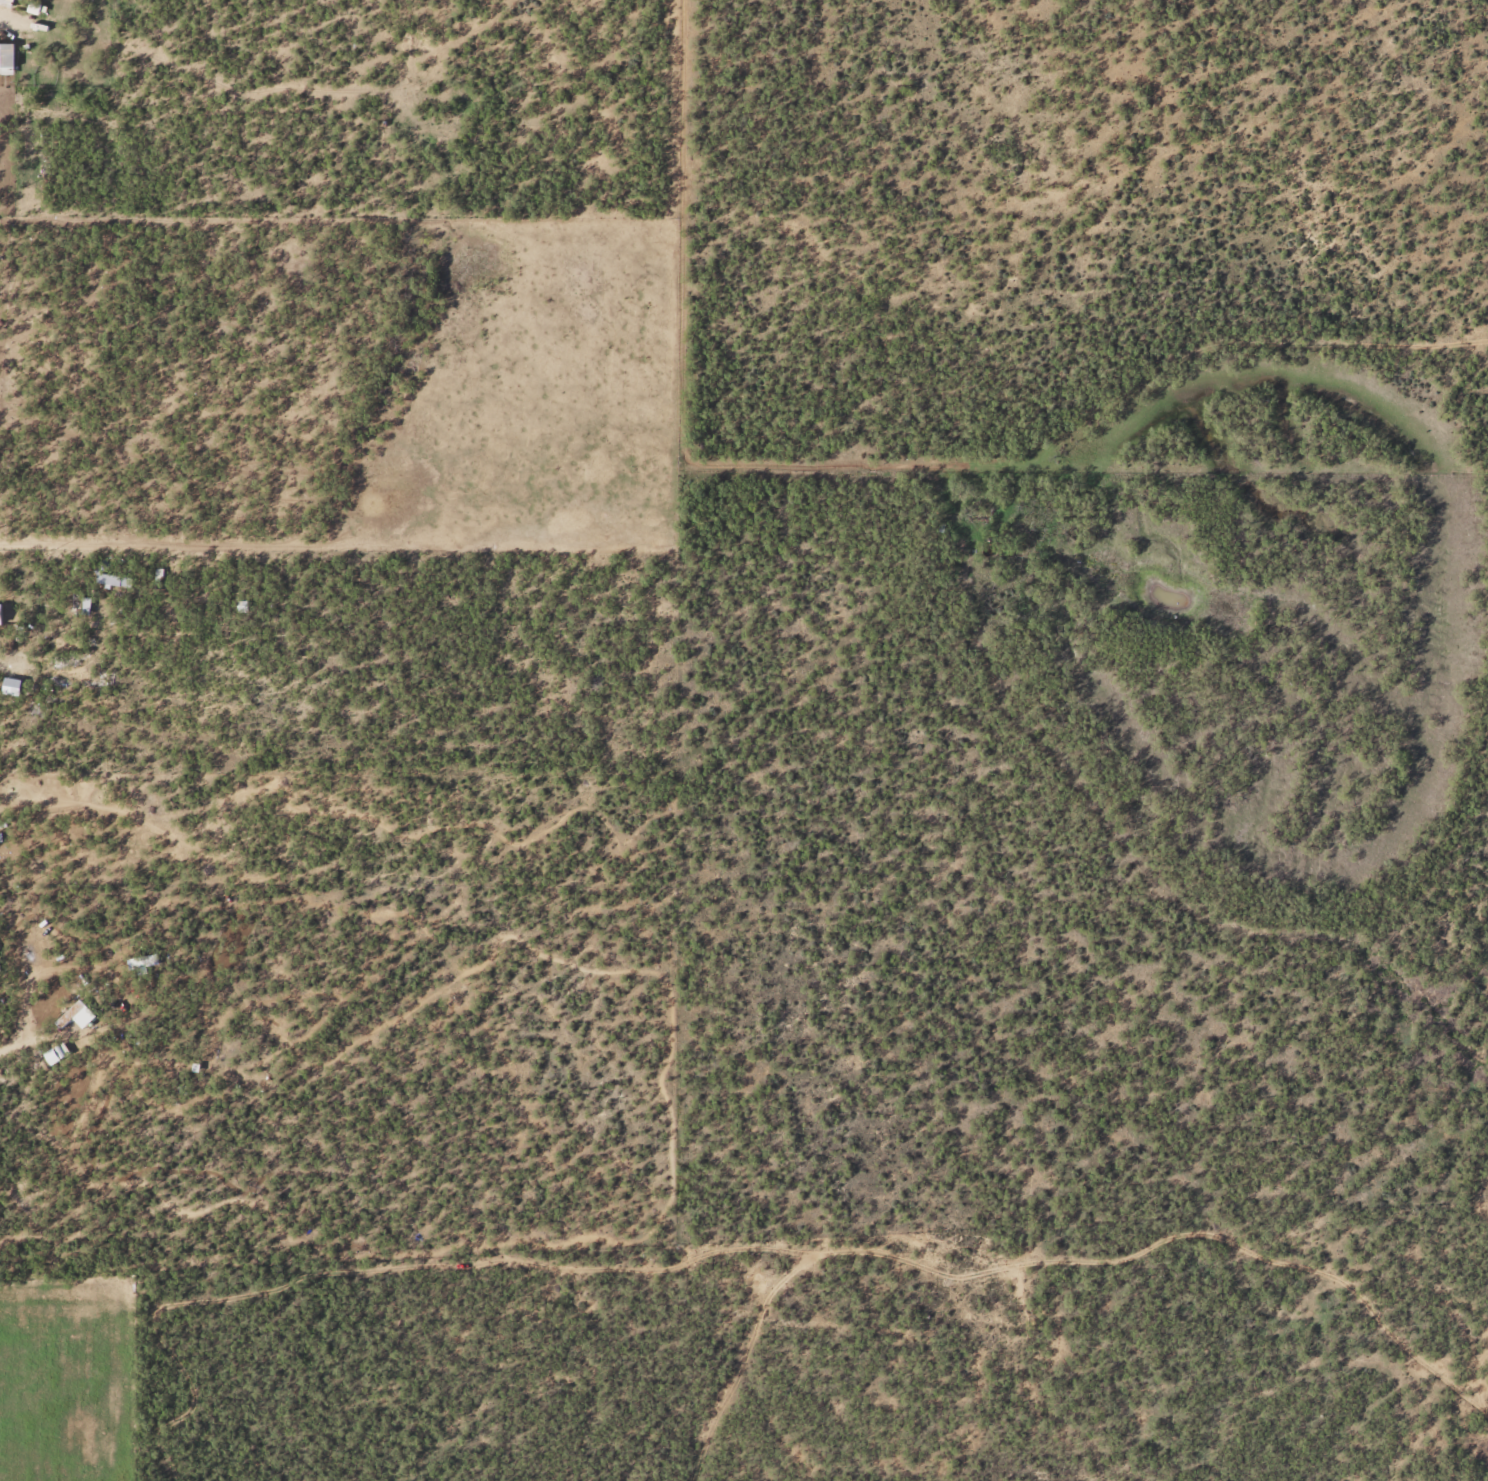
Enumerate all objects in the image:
building: (9, 0)
building: (26, 0)
building: (6, 59)
building: (157, 577)
building: (112, 580)
building: (79, 604)
building: (2, 613)
building: (9, 688)
building: (75, 1015)
building: (54, 1054)

